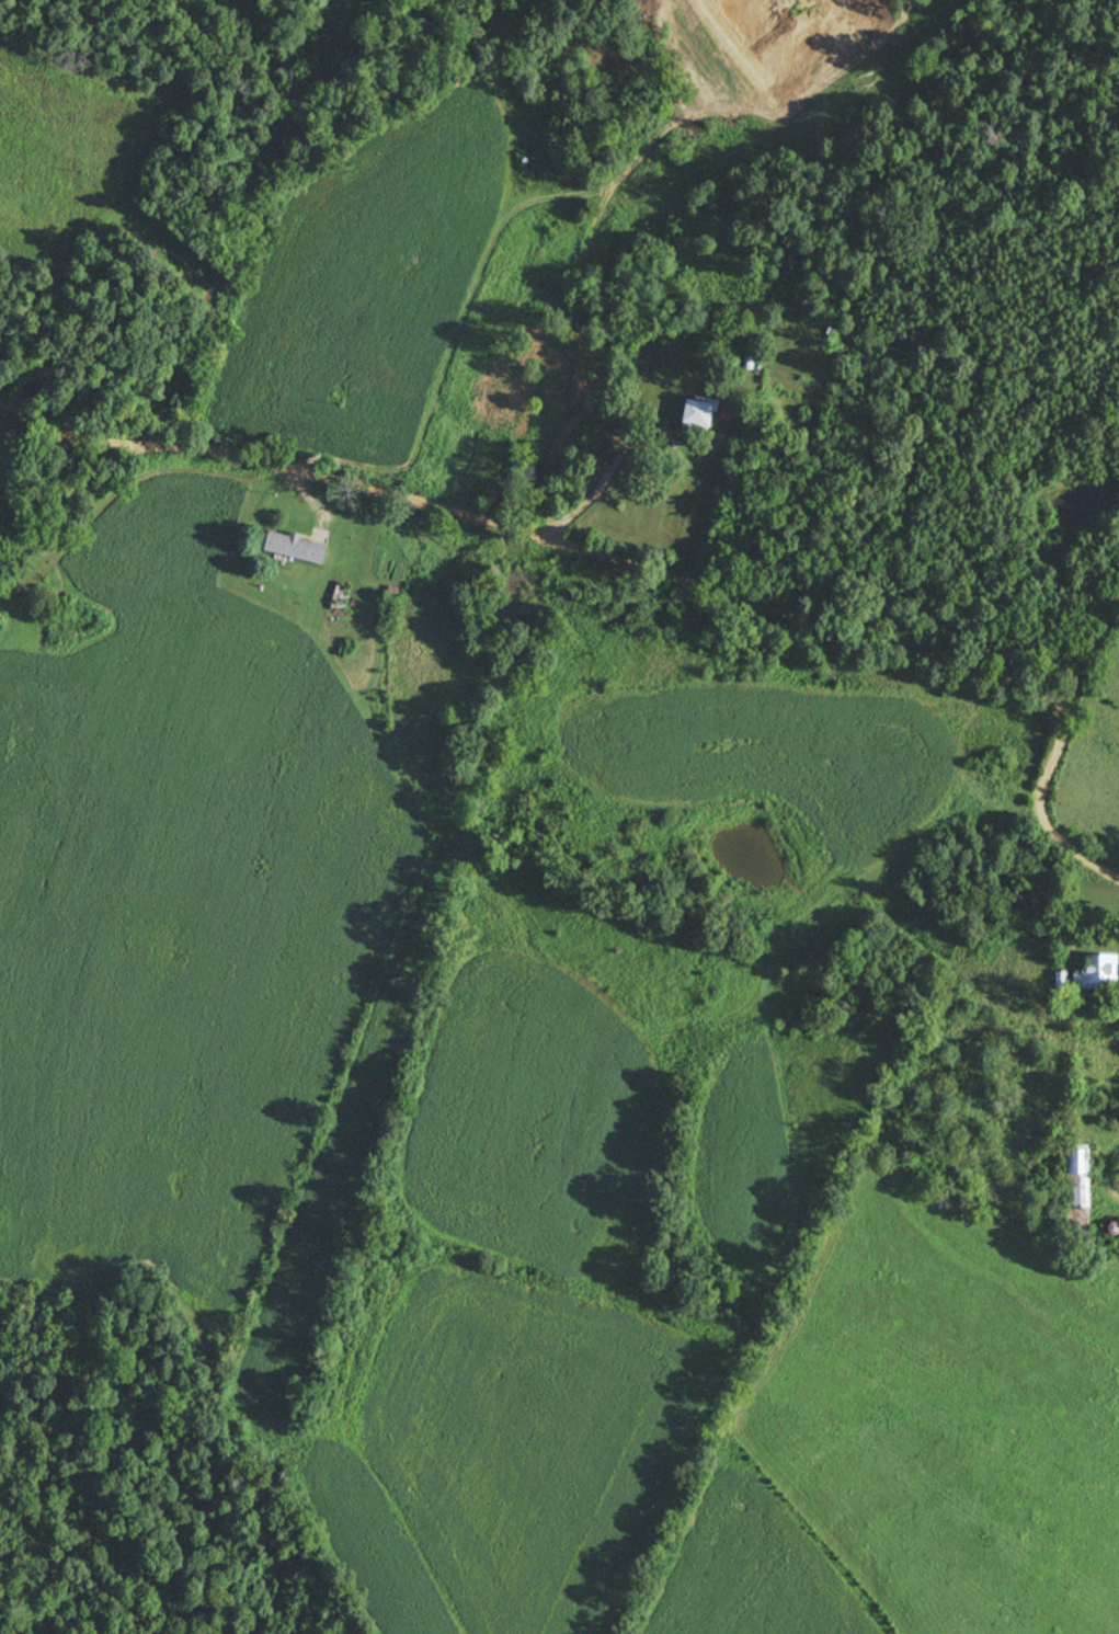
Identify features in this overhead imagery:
building: (561, 380)
building: (728, 411)
building: (701, 414)
building: (296, 546)
road: (636, 578)
building: (341, 596)
building: (1099, 971)
building: (1080, 1181)

